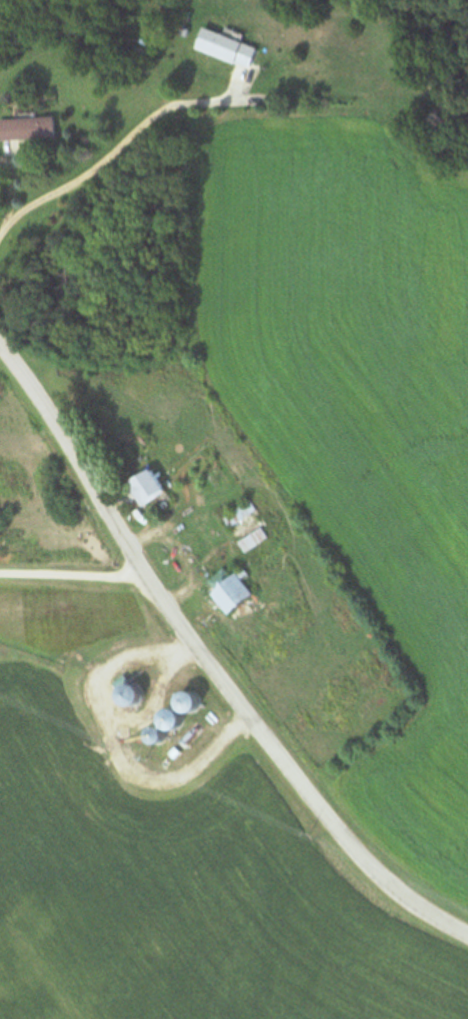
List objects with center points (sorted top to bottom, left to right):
building: (224, 48)
building: (26, 128)
road: (117, 149)
building: (143, 485)
building: (238, 514)
building: (251, 540)
road: (72, 573)
building: (228, 590)
road: (207, 662)
building: (121, 692)
building: (179, 701)
building: (157, 724)
road: (113, 743)

